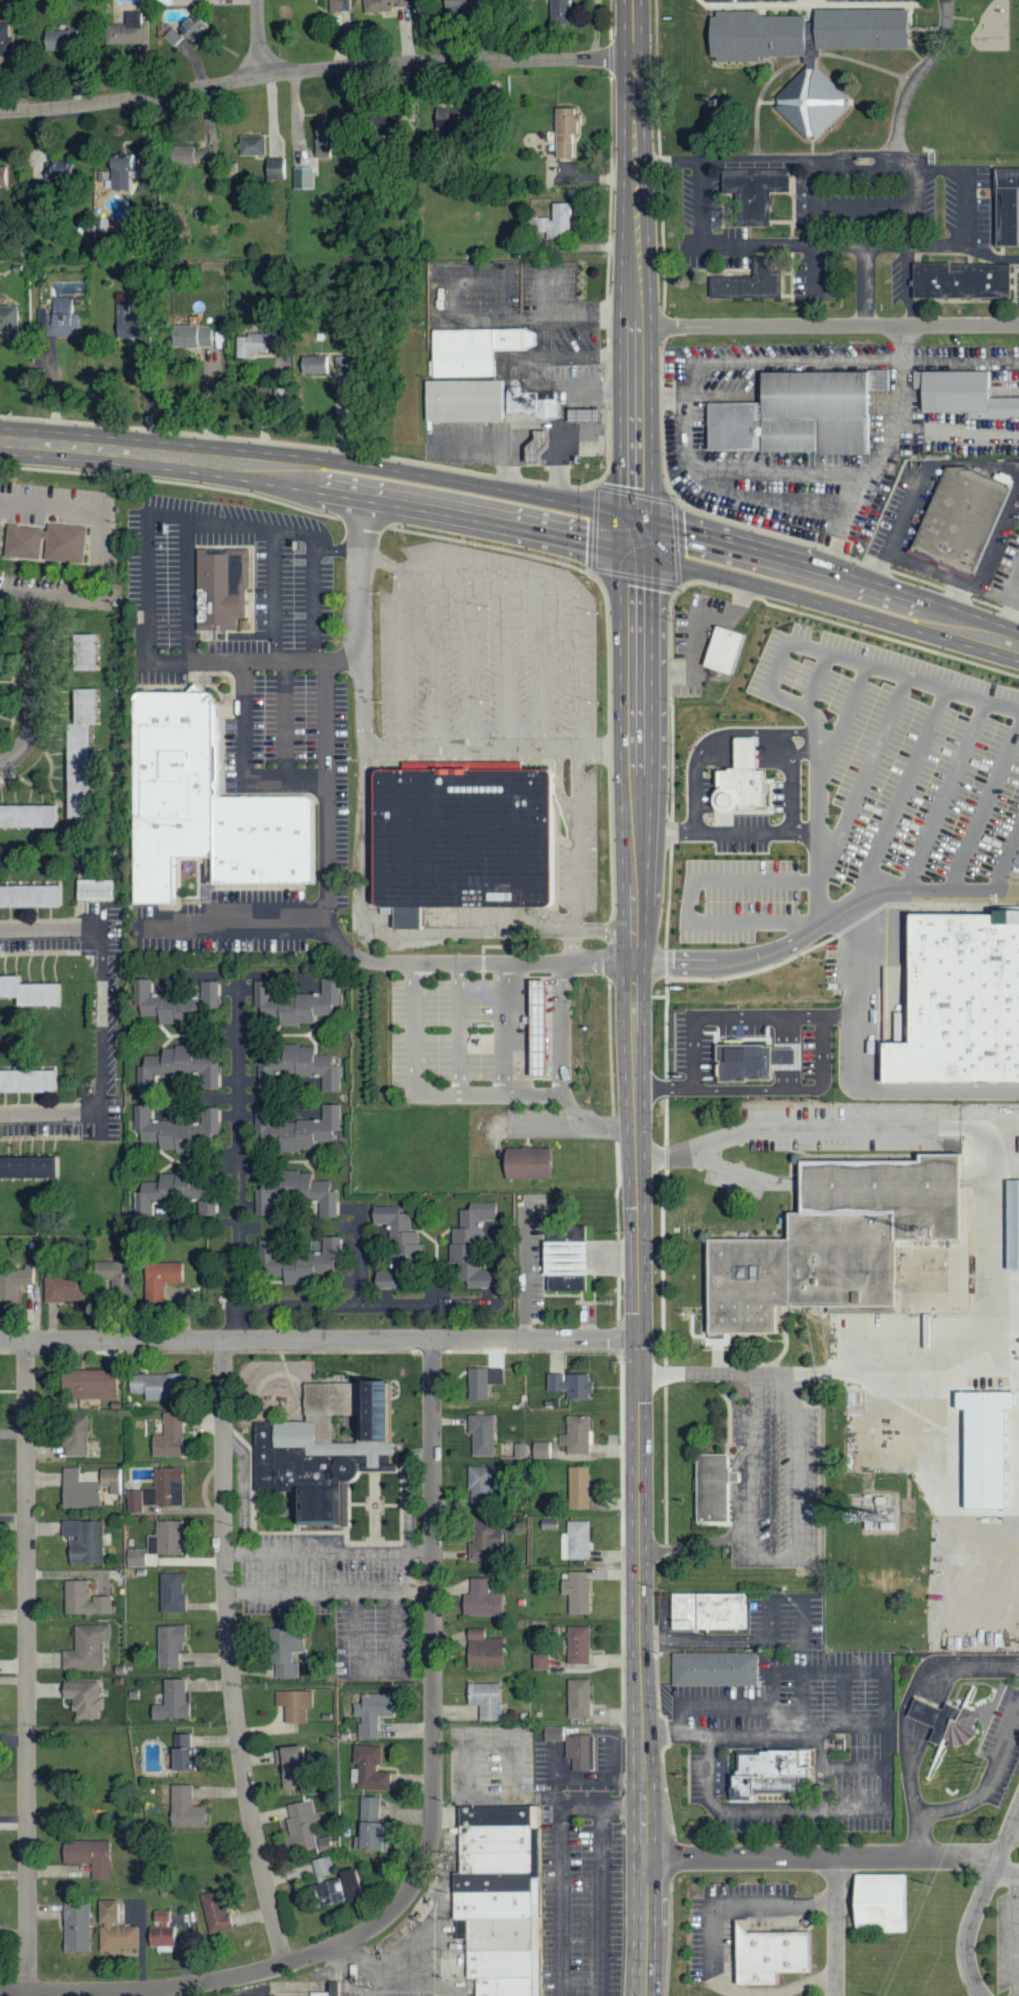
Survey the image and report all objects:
parking lot: (820, 1)
building: (381, 6)
building: (455, 6)
building: (557, 11)
building: (122, 33)
road: (259, 38)
building: (58, 39)
building: (5, 42)
building: (808, 50)
road: (315, 70)
building: (375, 126)
building: (564, 131)
building: (320, 137)
building: (251, 145)
building: (190, 155)
road: (851, 159)
building: (275, 169)
road: (963, 169)
building: (56, 170)
building: (118, 171)
building: (6, 175)
building: (303, 178)
building: (759, 186)
building: (1009, 204)
road: (915, 205)
road: (865, 207)
building: (554, 223)
road: (815, 229)
road: (886, 243)
road: (964, 243)
road: (741, 244)
road: (634, 272)
building: (753, 278)
building: (963, 280)
road: (549, 286)
building: (11, 319)
building: (124, 323)
road: (826, 324)
road: (543, 333)
building: (190, 337)
building: (254, 345)
building: (478, 348)
road: (838, 363)
building: (313, 365)
road: (696, 394)
building: (967, 394)
road: (576, 398)
building: (466, 400)
building: (801, 412)
building: (542, 415)
gas station: (542, 415)
road: (472, 444)
road: (539, 454)
road: (879, 459)
road: (745, 466)
road: (320, 476)
road: (517, 480)
road: (51, 506)
road: (907, 506)
building: (964, 517)
road: (219, 522)
building: (1, 540)
building: (53, 542)
traffic signals: (636, 544)
road: (338, 548)
road: (516, 552)
road: (380, 559)
road: (921, 564)
road: (489, 565)
building: (227, 586)
parking lot: (296, 586)
road: (186, 589)
road: (829, 589)
road: (274, 595)
road: (59, 596)
road: (1009, 599)
road: (29, 607)
road: (364, 615)
road: (700, 627)
building: (725, 648)
building: (89, 652)
road: (470, 655)
road: (504, 657)
road: (435, 658)
road: (397, 659)
road: (256, 661)
road: (542, 661)
road: (578, 669)
road: (32, 684)
road: (774, 684)
road: (820, 684)
building: (0, 686)
road: (13, 691)
road: (53, 713)
road: (285, 719)
road: (846, 726)
road: (765, 737)
road: (1, 740)
road: (739, 747)
road: (807, 748)
building: (86, 756)
road: (243, 760)
building: (742, 779)
road: (865, 786)
road: (793, 791)
parking lot: (876, 792)
road: (695, 796)
road: (904, 798)
road: (949, 799)
building: (207, 806)
building: (31, 816)
road: (985, 817)
road: (728, 831)
parking lot: (336, 835)
building: (465, 836)
road: (366, 840)
road: (1007, 868)
building: (98, 890)
building: (33, 896)
road: (693, 904)
road: (40, 919)
road: (233, 920)
road: (827, 927)
road: (52, 930)
road: (635, 942)
road: (344, 948)
road: (52, 953)
building: (32, 992)
building: (961, 998)
building: (295, 1003)
building: (182, 1004)
road: (713, 1016)
road: (104, 1022)
building: (540, 1025)
gas station: (540, 1025)
parking lot: (441, 1026)
road: (416, 1028)
road: (459, 1028)
road: (563, 1028)
building: (744, 1063)
building: (302, 1065)
building: (180, 1068)
road: (822, 1068)
road: (862, 1077)
building: (33, 1082)
road: (775, 1088)
road: (459, 1094)
road: (510, 1095)
road: (51, 1104)
road: (52, 1117)
road: (547, 1125)
building: (176, 1128)
road: (904, 1128)
building: (307, 1130)
road: (39, 1137)
building: (1017, 1144)
building: (529, 1160)
road: (239, 1161)
building: (33, 1168)
building: (294, 1192)
building: (173, 1194)
building: (1014, 1224)
building: (838, 1239)
building: (395, 1244)
road: (358, 1255)
building: (569, 1258)
building: (300, 1262)
building: (107, 1275)
building: (474, 1276)
building: (159, 1279)
building: (16, 1280)
road: (524, 1280)
building: (65, 1289)
road: (371, 1304)
traffic signals: (639, 1341)
road: (319, 1342)
road: (310, 1352)
road: (696, 1372)
building: (481, 1381)
building: (89, 1384)
building: (569, 1385)
building: (157, 1386)
building: (480, 1435)
building: (575, 1435)
building: (73, 1436)
building: (168, 1437)
building: (325, 1445)
building: (984, 1446)
building: (519, 1450)
building: (540, 1450)
building: (110, 1479)
road: (797, 1483)
building: (479, 1484)
building: (167, 1487)
building: (715, 1487)
building: (577, 1488)
road: (408, 1489)
building: (77, 1491)
building: (147, 1496)
building: (133, 1501)
road: (751, 1505)
building: (165, 1538)
building: (82, 1540)
building: (575, 1541)
road: (328, 1542)
building: (482, 1542)
building: (135, 1558)
road: (329, 1583)
building: (171, 1592)
building: (575, 1592)
building: (480, 1599)
building: (82, 1600)
building: (709, 1610)
road: (782, 1642)
building: (575, 1644)
building: (169, 1645)
building: (85, 1648)
building: (284, 1651)
building: (482, 1651)
road: (229, 1656)
building: (538, 1662)
road: (27, 1668)
road: (641, 1668)
building: (716, 1668)
road: (861, 1671)
building: (81, 1698)
building: (577, 1698)
road: (802, 1698)
road: (844, 1699)
building: (483, 1700)
building: (171, 1701)
building: (294, 1705)
road: (433, 1705)
road: (709, 1705)
road: (931, 1707)
building: (370, 1713)
building: (948, 1720)
road: (659, 1734)
road: (728, 1734)
parking lot: (798, 1741)
building: (574, 1747)
parking lot: (1000, 1749)
building: (181, 1752)
road: (822, 1765)
building: (288, 1767)
road: (854, 1767)
building: (369, 1769)
building: (772, 1772)
road: (979, 1793)
road: (602, 1806)
building: (183, 1809)
road: (804, 1811)
building: (368, 1825)
building: (303, 1828)
road: (1006, 1844)
road: (823, 1855)
building: (88, 1856)
building: (336, 1889)
building: (500, 1897)
parking lot: (580, 1898)
road: (561, 1901)
road: (601, 1901)
building: (884, 1904)
building: (214, 1913)
road: (972, 1923)
parking lot: (728, 1925)
road: (836, 1925)
building: (75, 1928)
building: (114, 1929)
building: (161, 1931)
road: (1016, 1935)
parking lot: (1013, 1938)
road: (713, 1945)
building: (775, 1955)
building: (332, 1988)
road: (131, 1991)
road: (170, 1991)
parking lot: (238, 1991)
building: (305, 1995)

